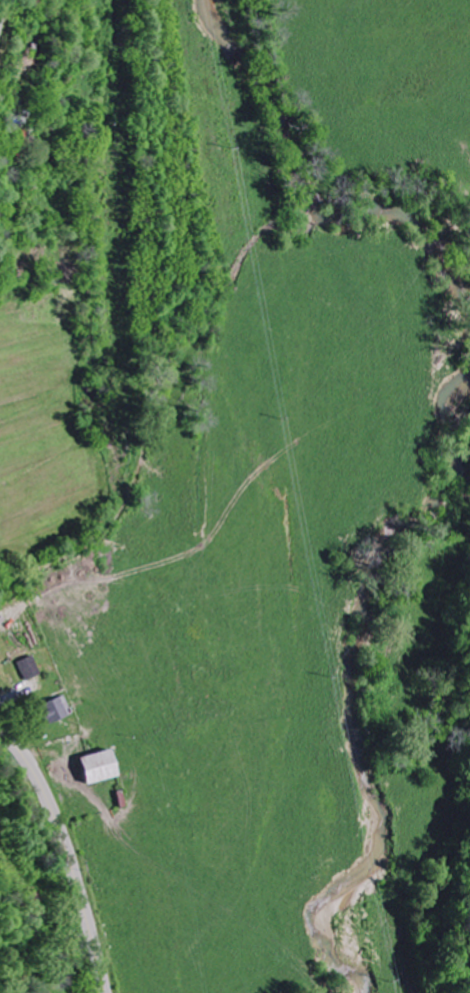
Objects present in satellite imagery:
river: (310, 192)
building: (34, 669)
river: (358, 689)
road: (71, 853)

